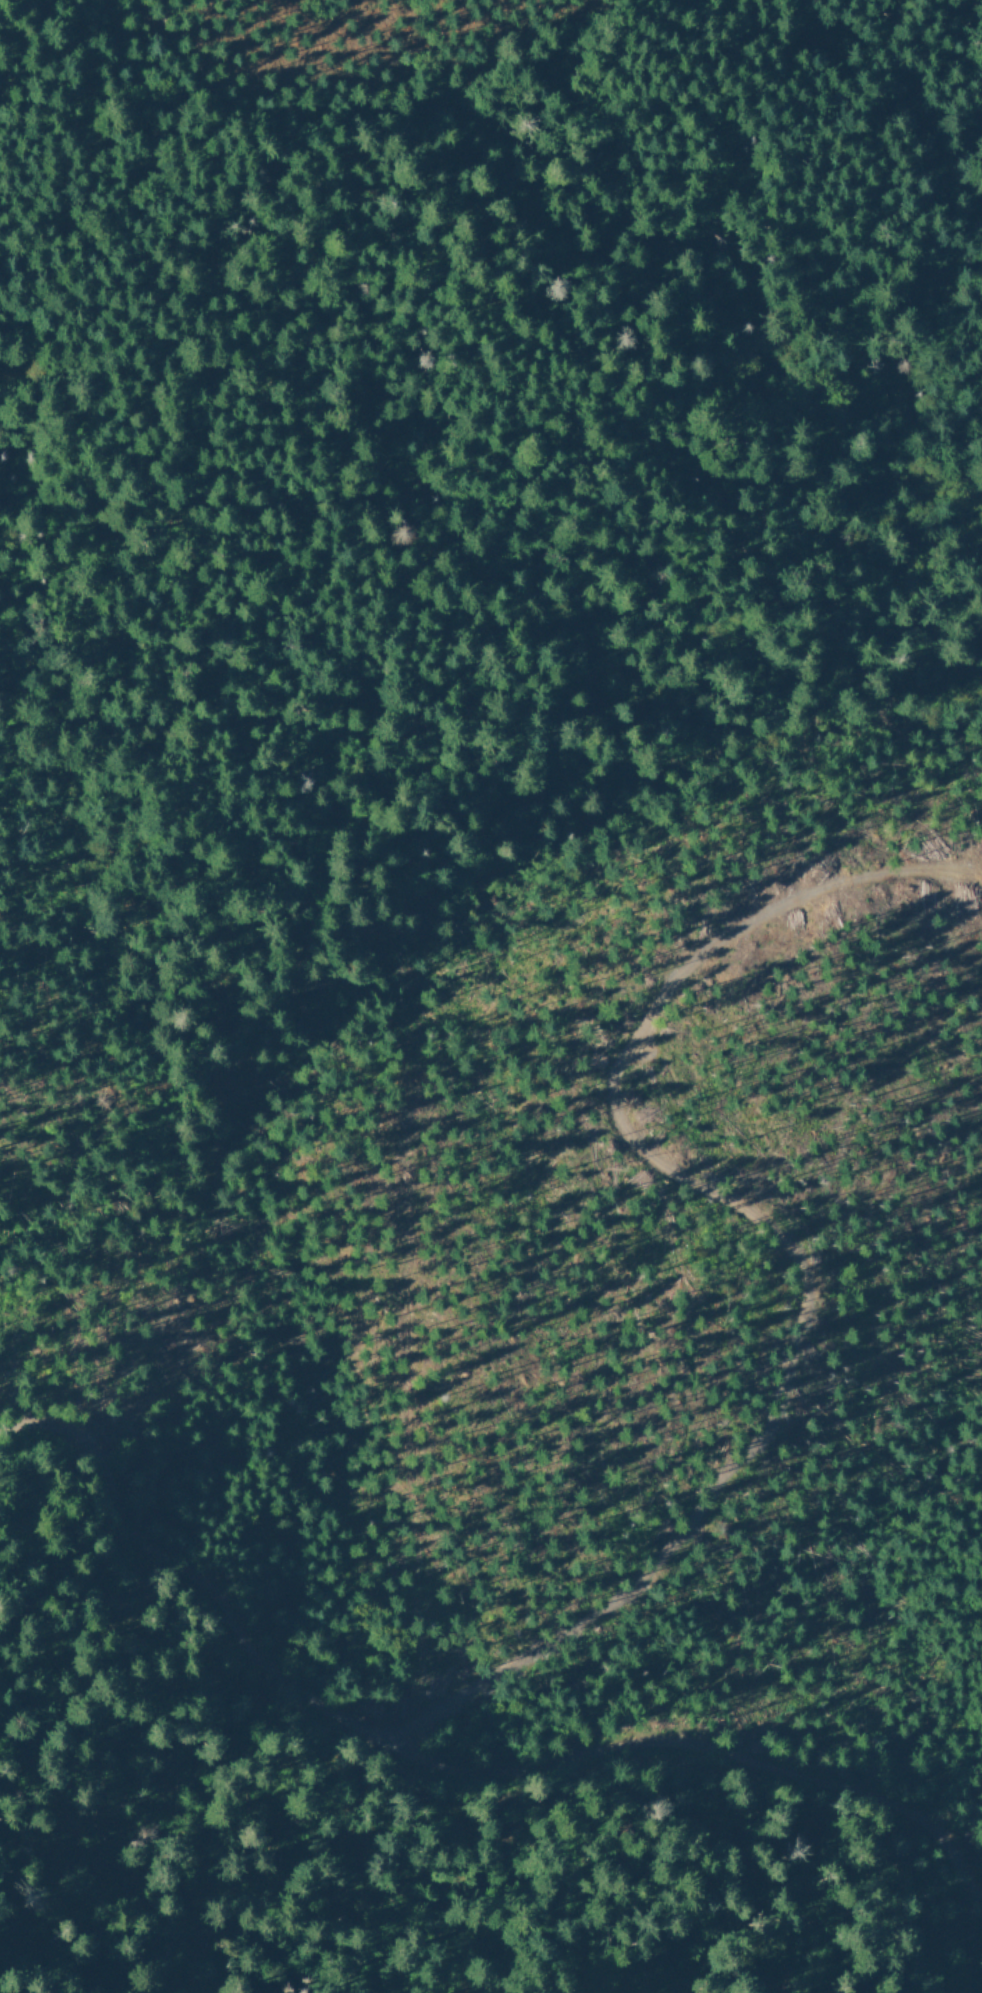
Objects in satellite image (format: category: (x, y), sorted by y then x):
road: (863, 40)
road: (454, 1757)

